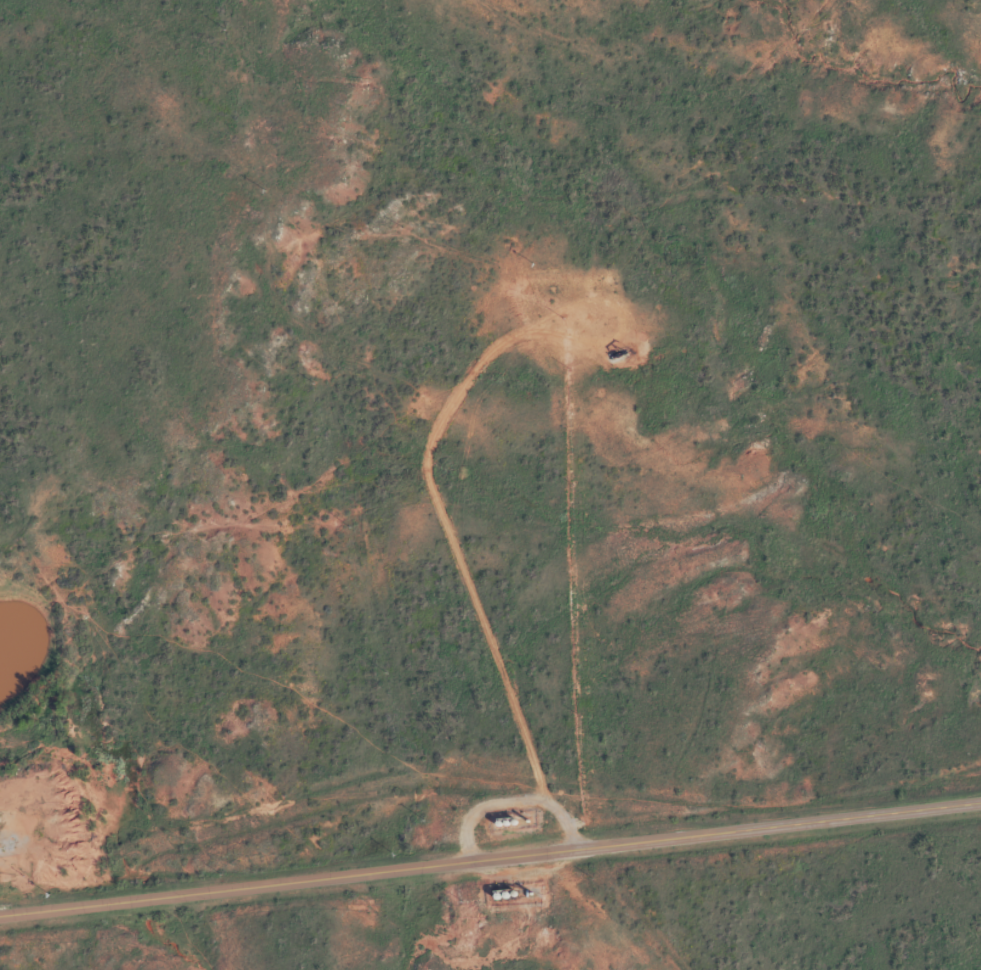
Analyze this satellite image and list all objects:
road: (490, 859)

